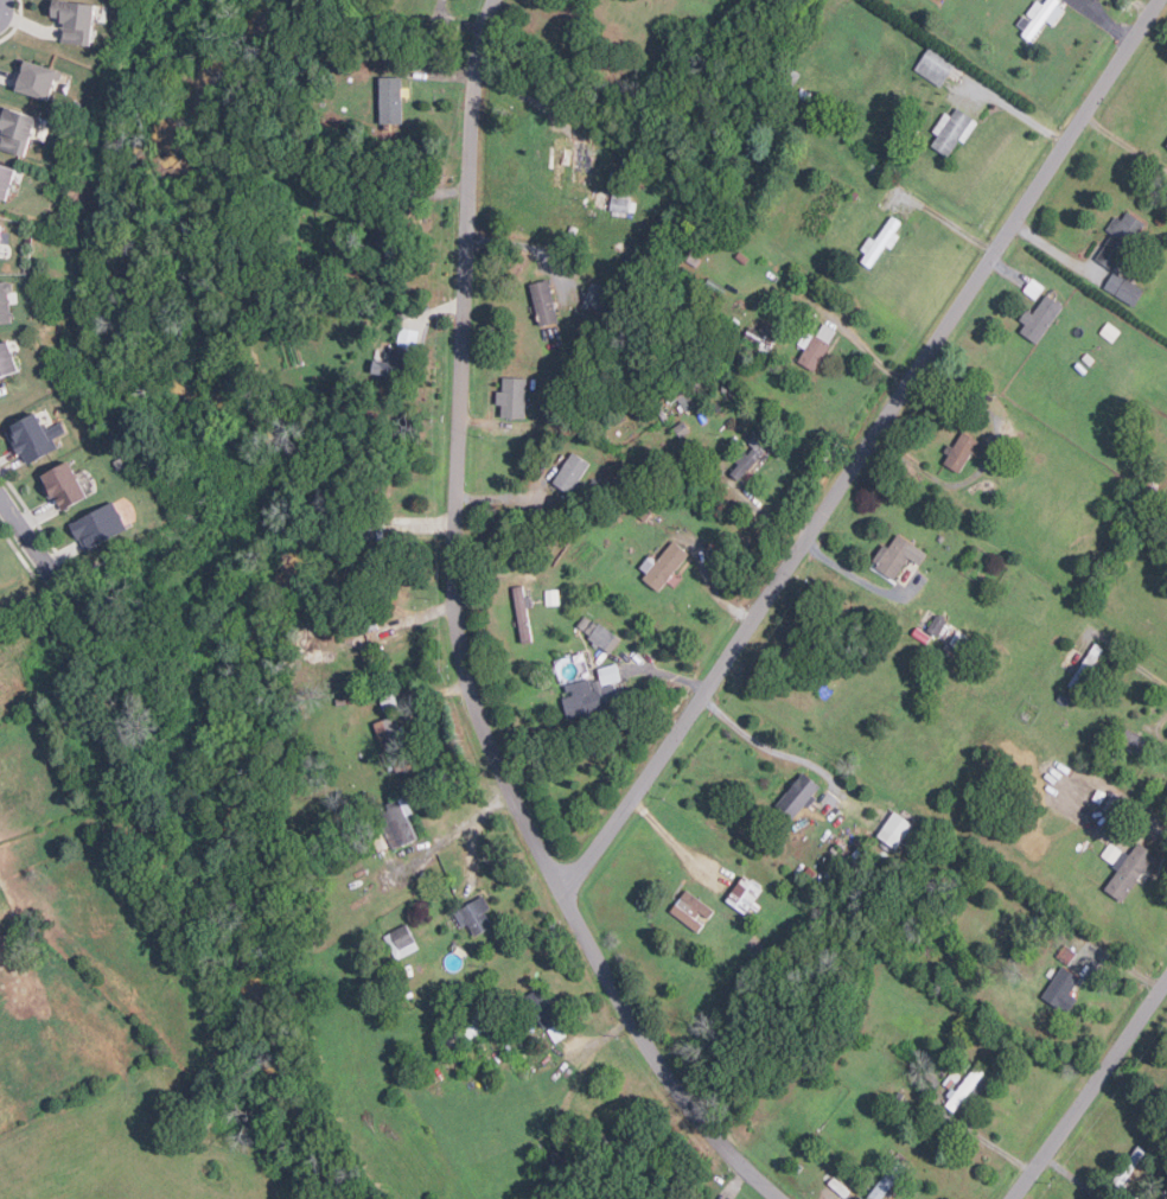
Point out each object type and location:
building: (1040, 17)
building: (75, 20)
building: (935, 66)
building: (37, 79)
building: (390, 98)
building: (15, 129)
building: (951, 132)
building: (1166, 146)
building: (582, 159)
building: (5, 177)
building: (617, 203)
building: (0, 232)
building: (1121, 238)
building: (881, 241)
building: (1033, 288)
building: (1123, 288)
building: (595, 296)
building: (4, 302)
building: (544, 302)
building: (1039, 319)
building: (770, 329)
building: (408, 338)
building: (816, 347)
building: (6, 356)
building: (387, 365)
building: (512, 397)
building: (31, 440)
road: (865, 448)
building: (963, 452)
building: (750, 457)
building: (570, 472)
building: (69, 484)
building: (110, 519)
road: (25, 541)
building: (894, 557)
building: (667, 567)
building: (522, 614)
building: (605, 640)
road: (460, 644)
road: (1141, 668)
building: (598, 699)
road: (750, 739)
building: (394, 740)
building: (1133, 740)
building: (797, 795)
road: (1109, 812)
building: (397, 823)
building: (894, 830)
building: (1111, 853)
building: (1128, 872)
building: (745, 895)
building: (690, 912)
building: (474, 916)
building: (401, 942)
building: (1064, 955)
building: (1060, 991)
road: (1089, 1088)
building: (965, 1090)
building: (1127, 1172)
building: (891, 1178)
building: (838, 1188)

